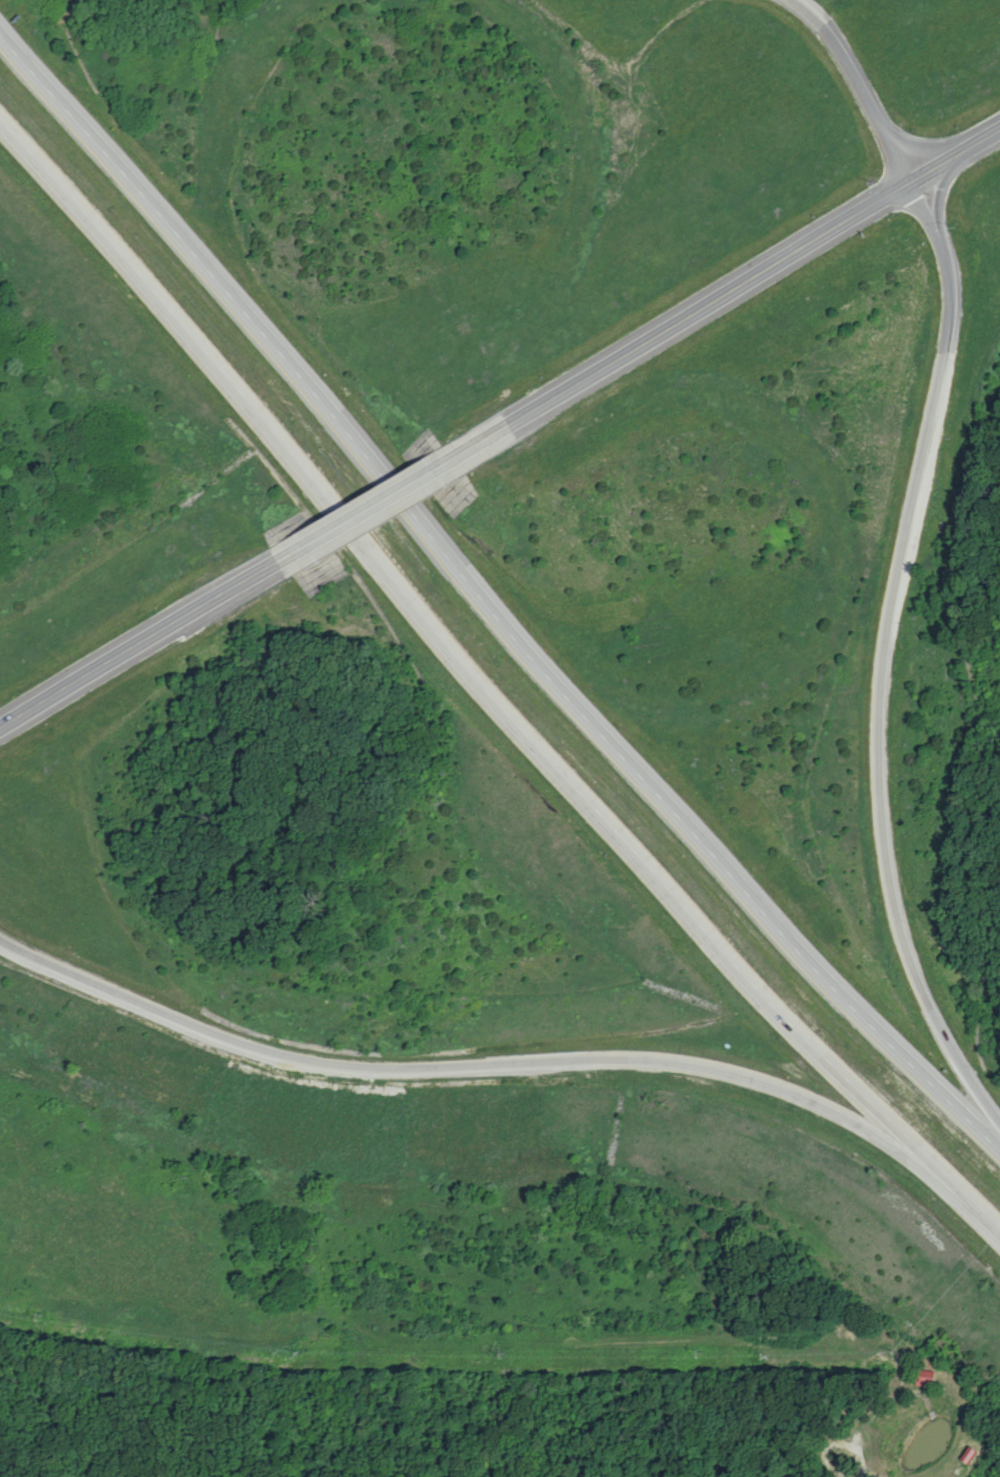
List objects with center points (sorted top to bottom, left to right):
road: (866, 85)
road: (953, 185)
road: (935, 203)
road: (740, 289)
road: (380, 504)
road: (483, 606)
road: (139, 646)
road: (876, 693)
road: (483, 700)
road: (452, 1064)
building: (925, 1378)
building: (970, 1455)

